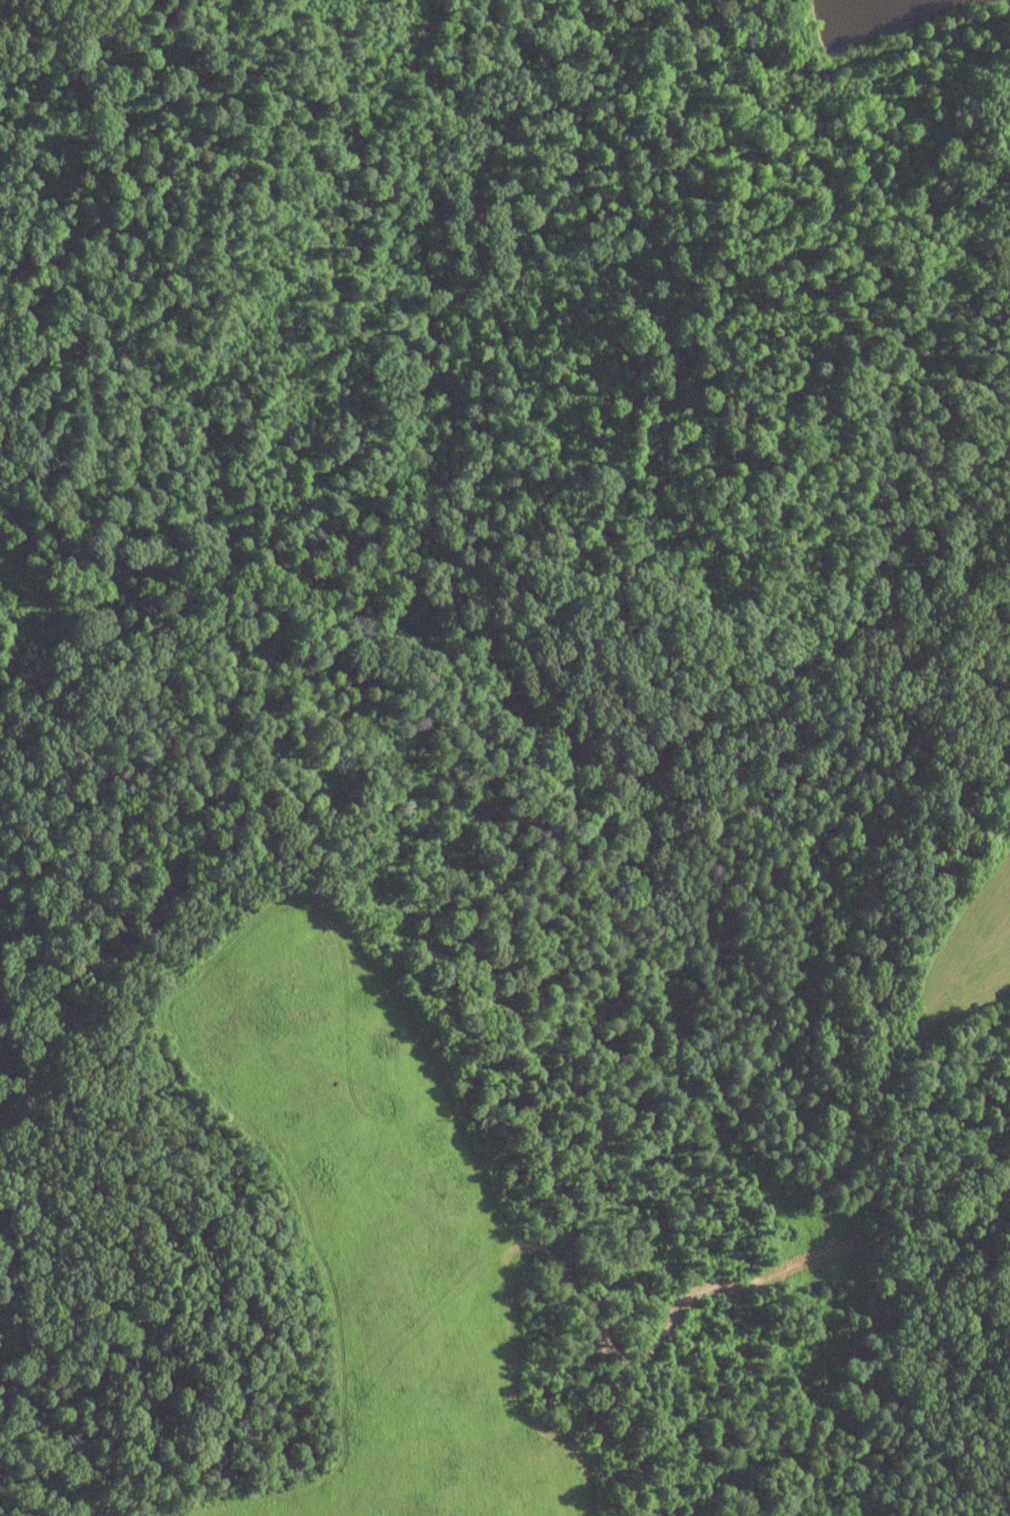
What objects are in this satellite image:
road: (914, 1207)

